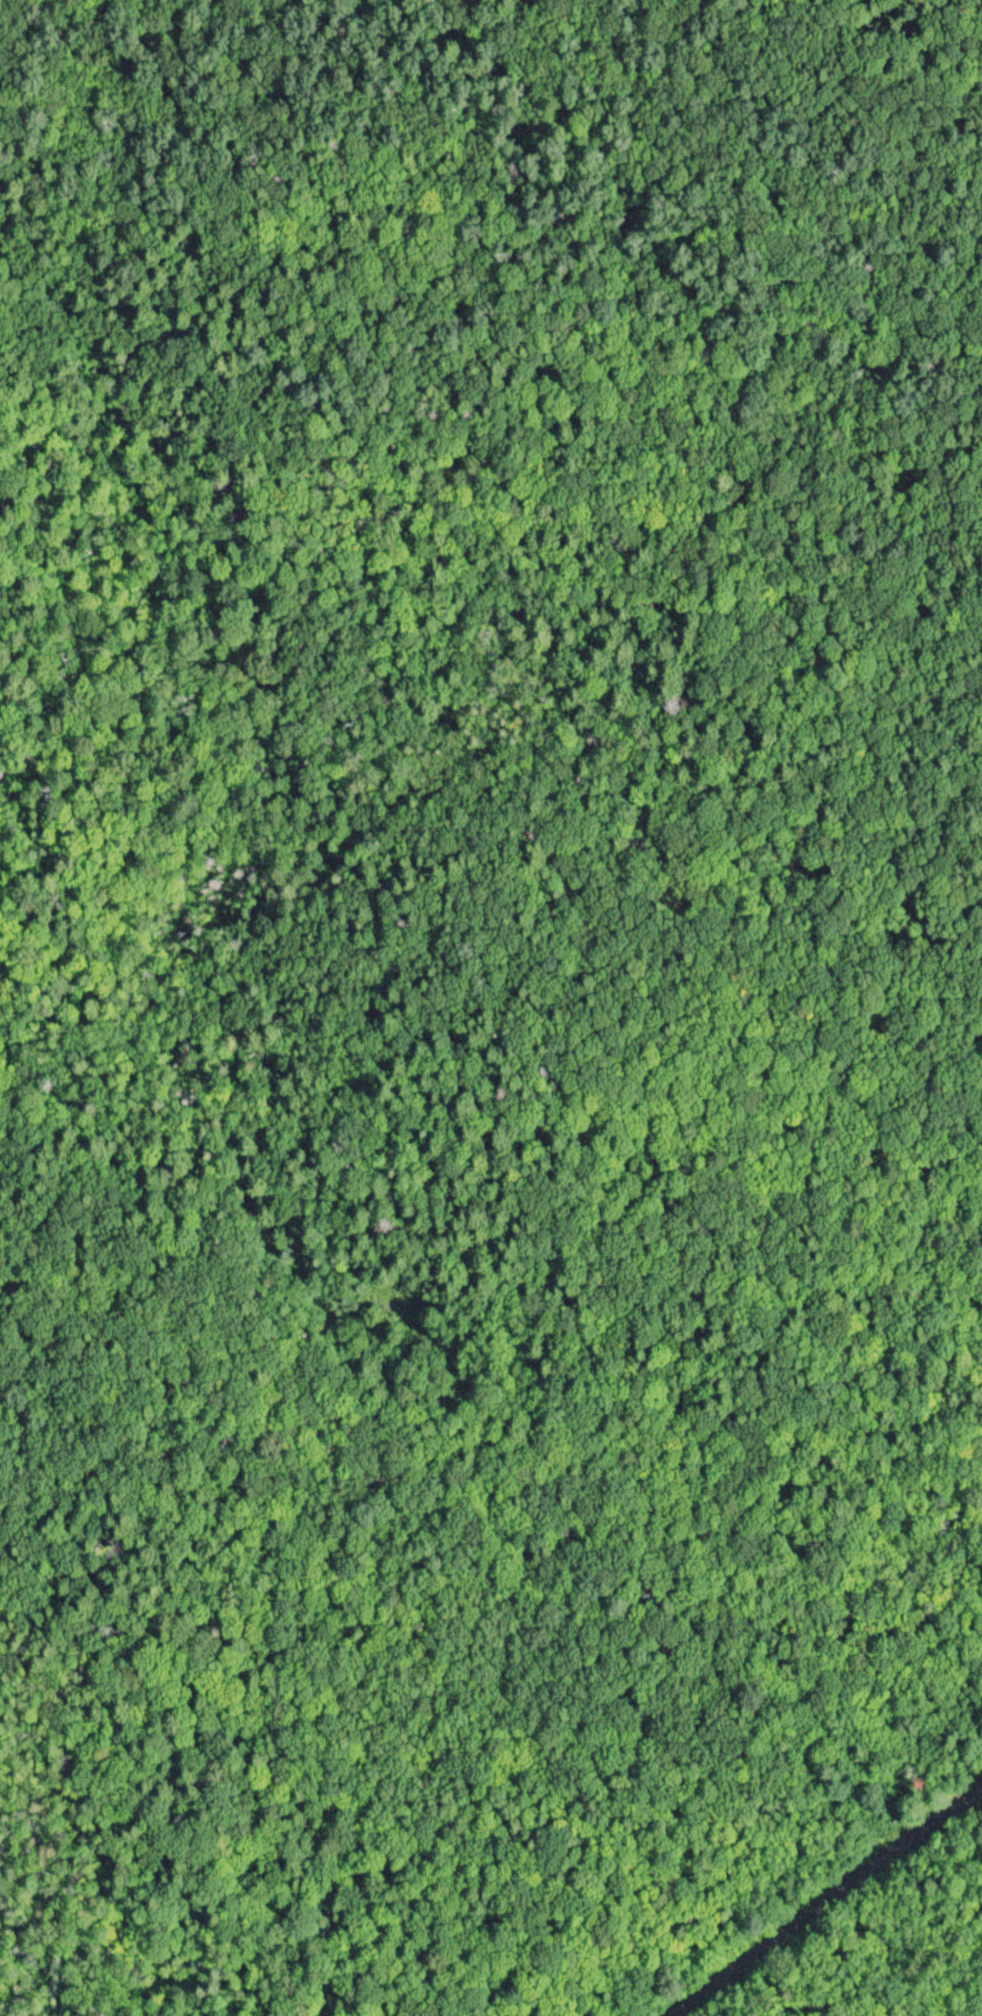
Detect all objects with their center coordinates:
road: (826, 1902)

